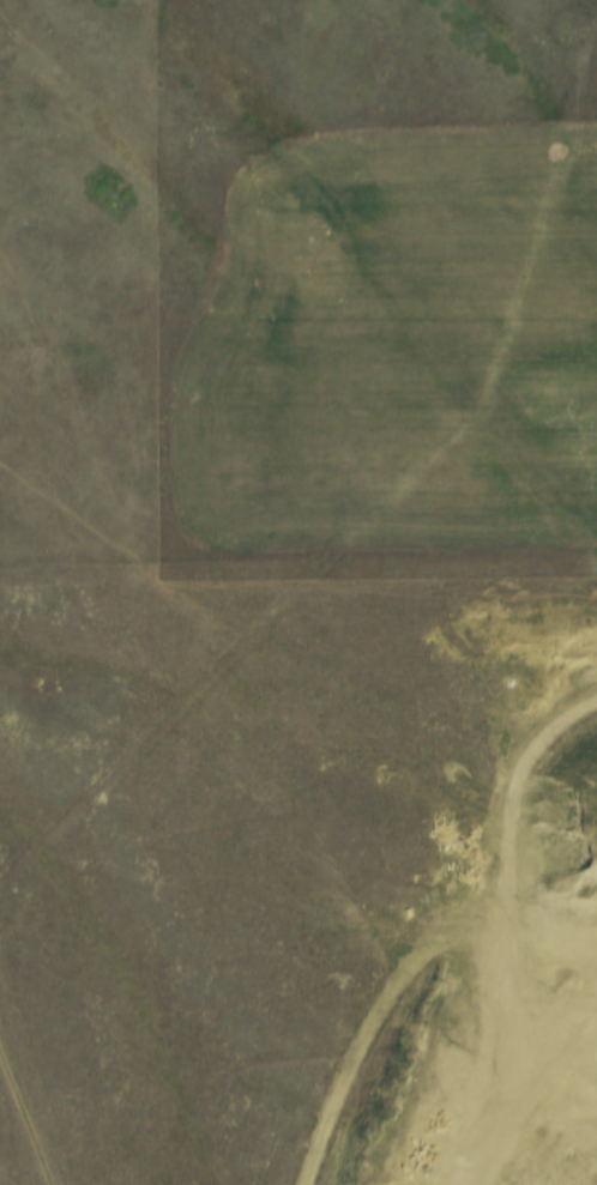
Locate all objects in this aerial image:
road: (34, 1053)

